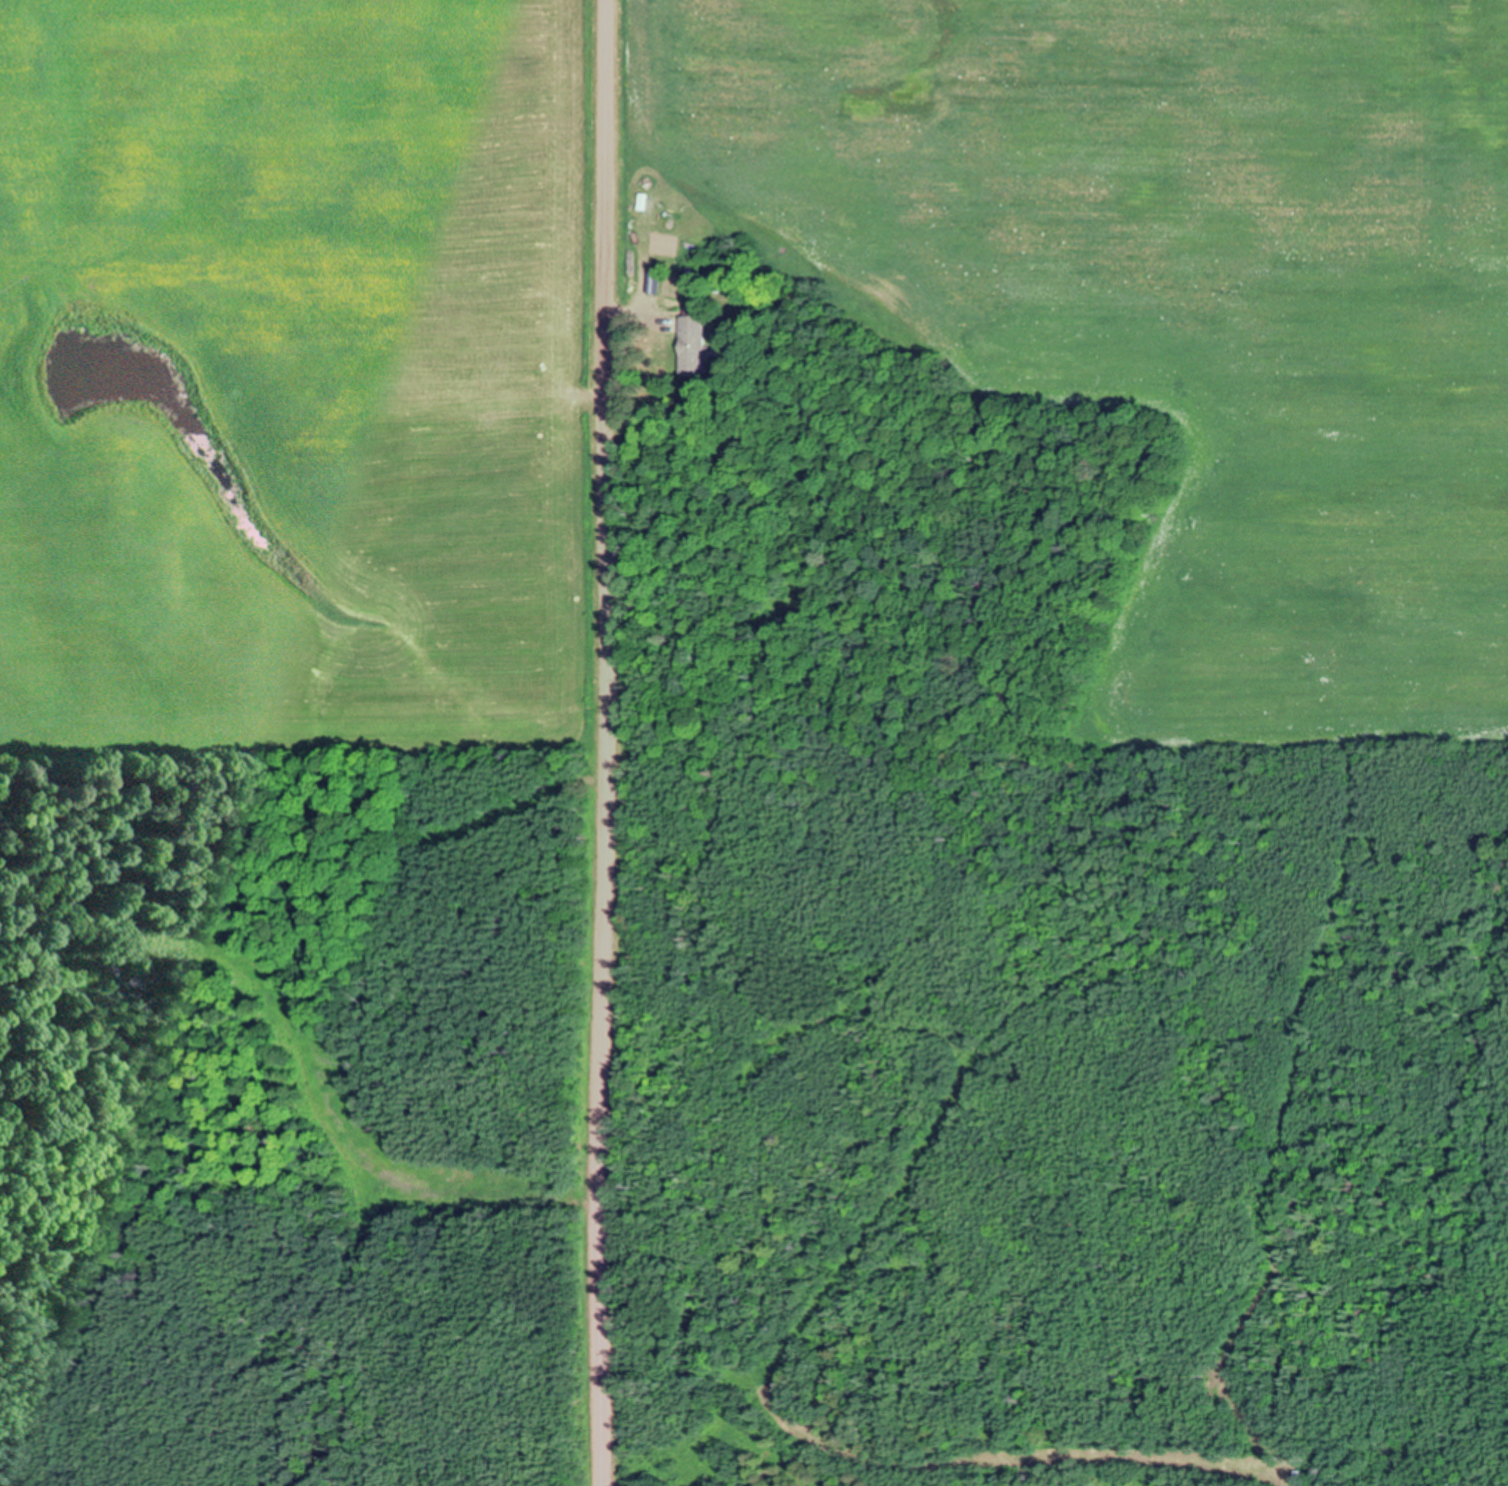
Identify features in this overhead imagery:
building: (695, 340)
road: (602, 742)

